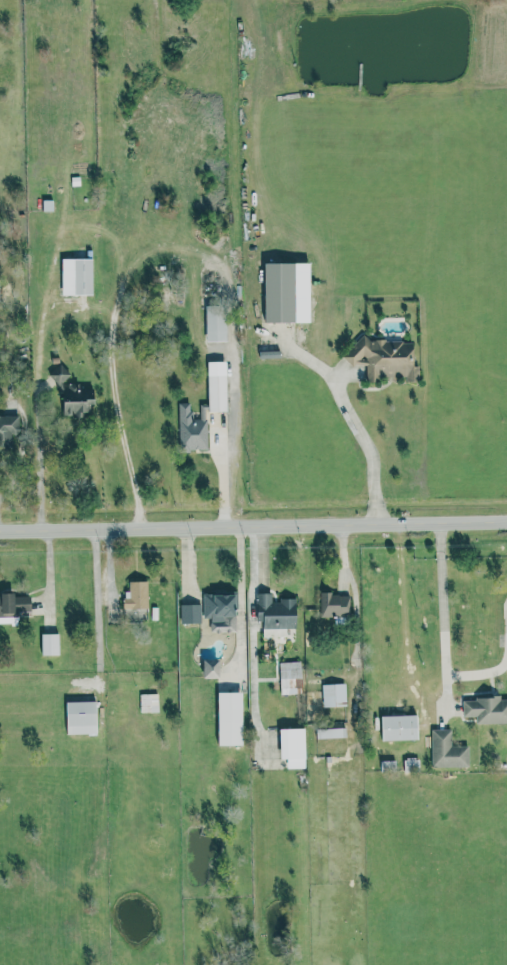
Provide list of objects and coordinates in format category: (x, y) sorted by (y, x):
building: (76, 277)
building: (286, 292)
building: (216, 324)
building: (384, 359)
building: (216, 386)
building: (71, 393)
road: (120, 425)
building: (9, 428)
road: (361, 445)
road: (20, 451)
road: (34, 469)
road: (224, 478)
road: (253, 527)
road: (355, 595)
building: (136, 596)
road: (97, 600)
building: (13, 604)
building: (334, 604)
building: (220, 611)
building: (190, 614)
building: (275, 615)
road: (255, 616)
road: (443, 631)
building: (50, 644)
building: (210, 669)
building: (290, 678)
road: (98, 679)
building: (333, 695)
building: (148, 703)
building: (485, 710)
building: (81, 717)
building: (229, 718)
building: (398, 727)
building: (330, 733)
building: (292, 747)
building: (447, 750)

